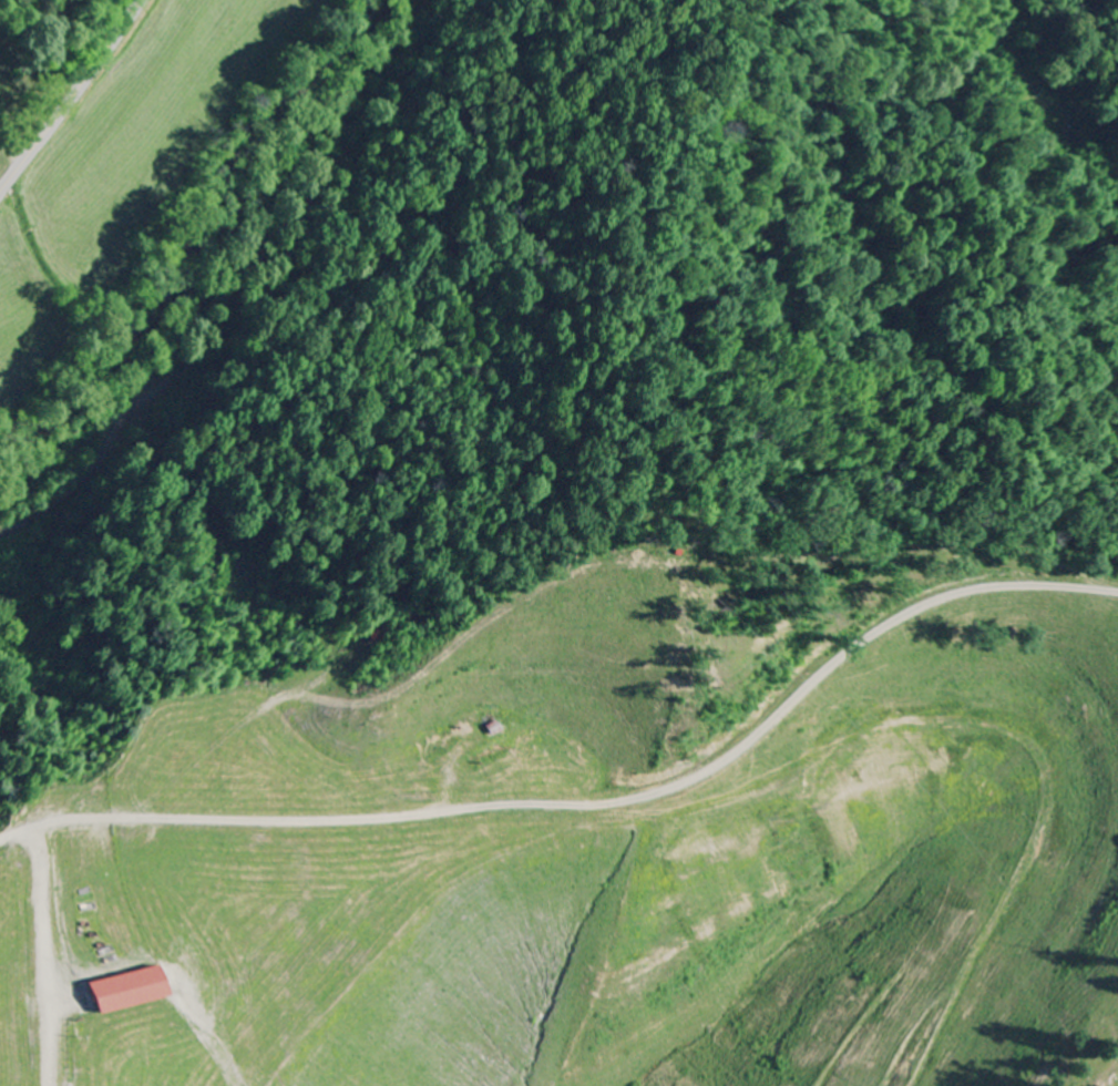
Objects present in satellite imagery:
road: (75, 99)
river: (193, 234)
building: (129, 990)

